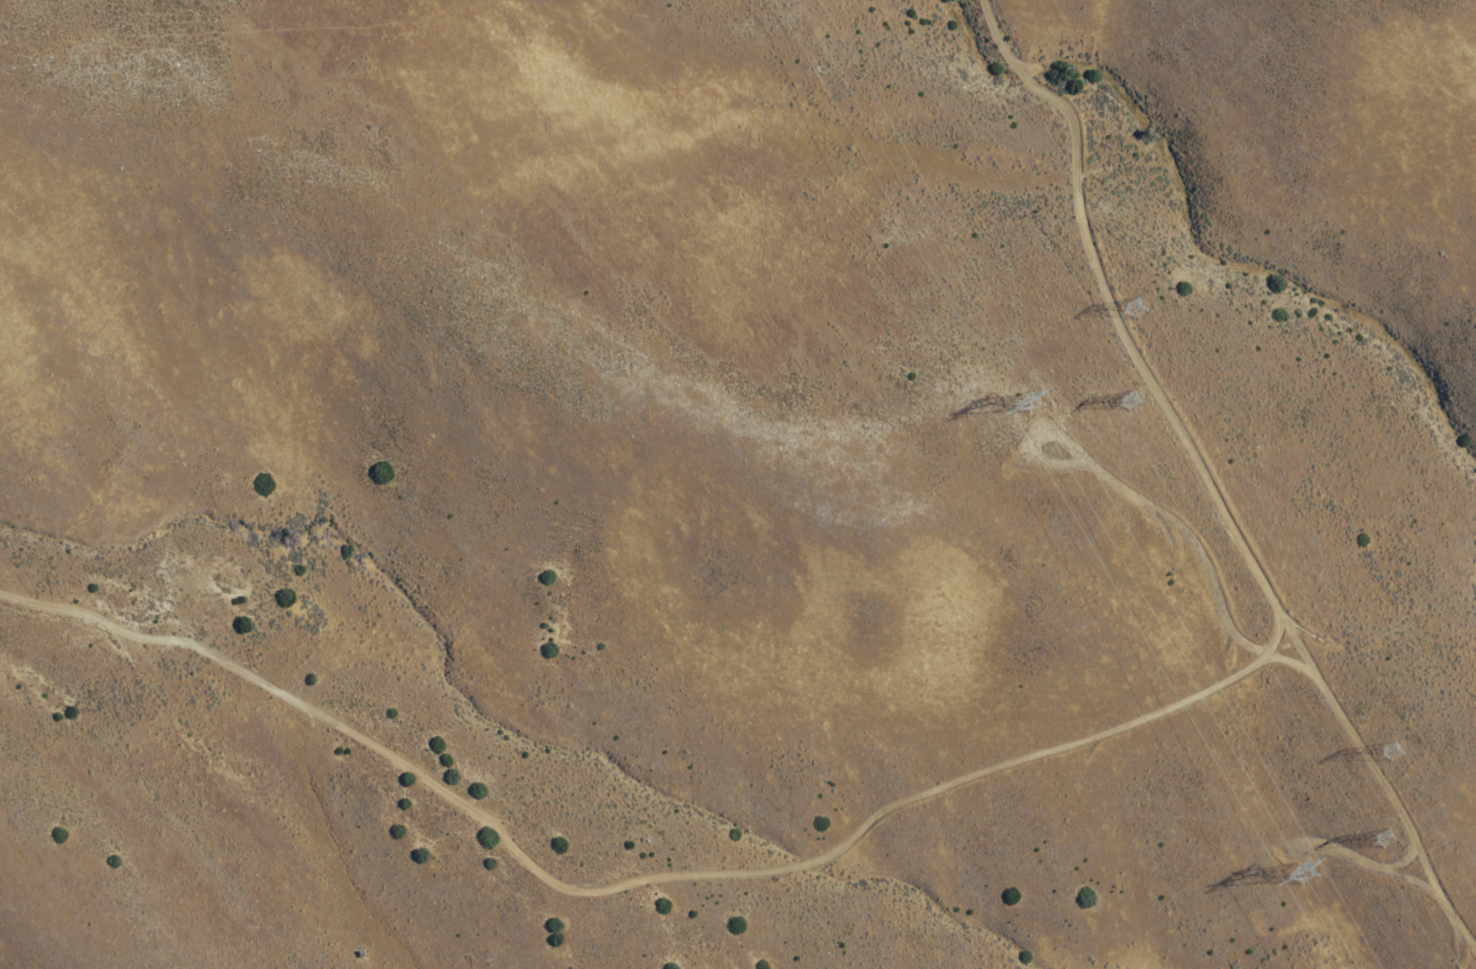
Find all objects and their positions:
power tower: (1153, 302)
road: (1118, 326)
power tower: (1144, 396)
power tower: (1054, 398)
road: (1359, 741)
power tower: (1418, 748)
power tower: (1400, 837)
road: (646, 869)
power tower: (1326, 871)
road: (1453, 912)

